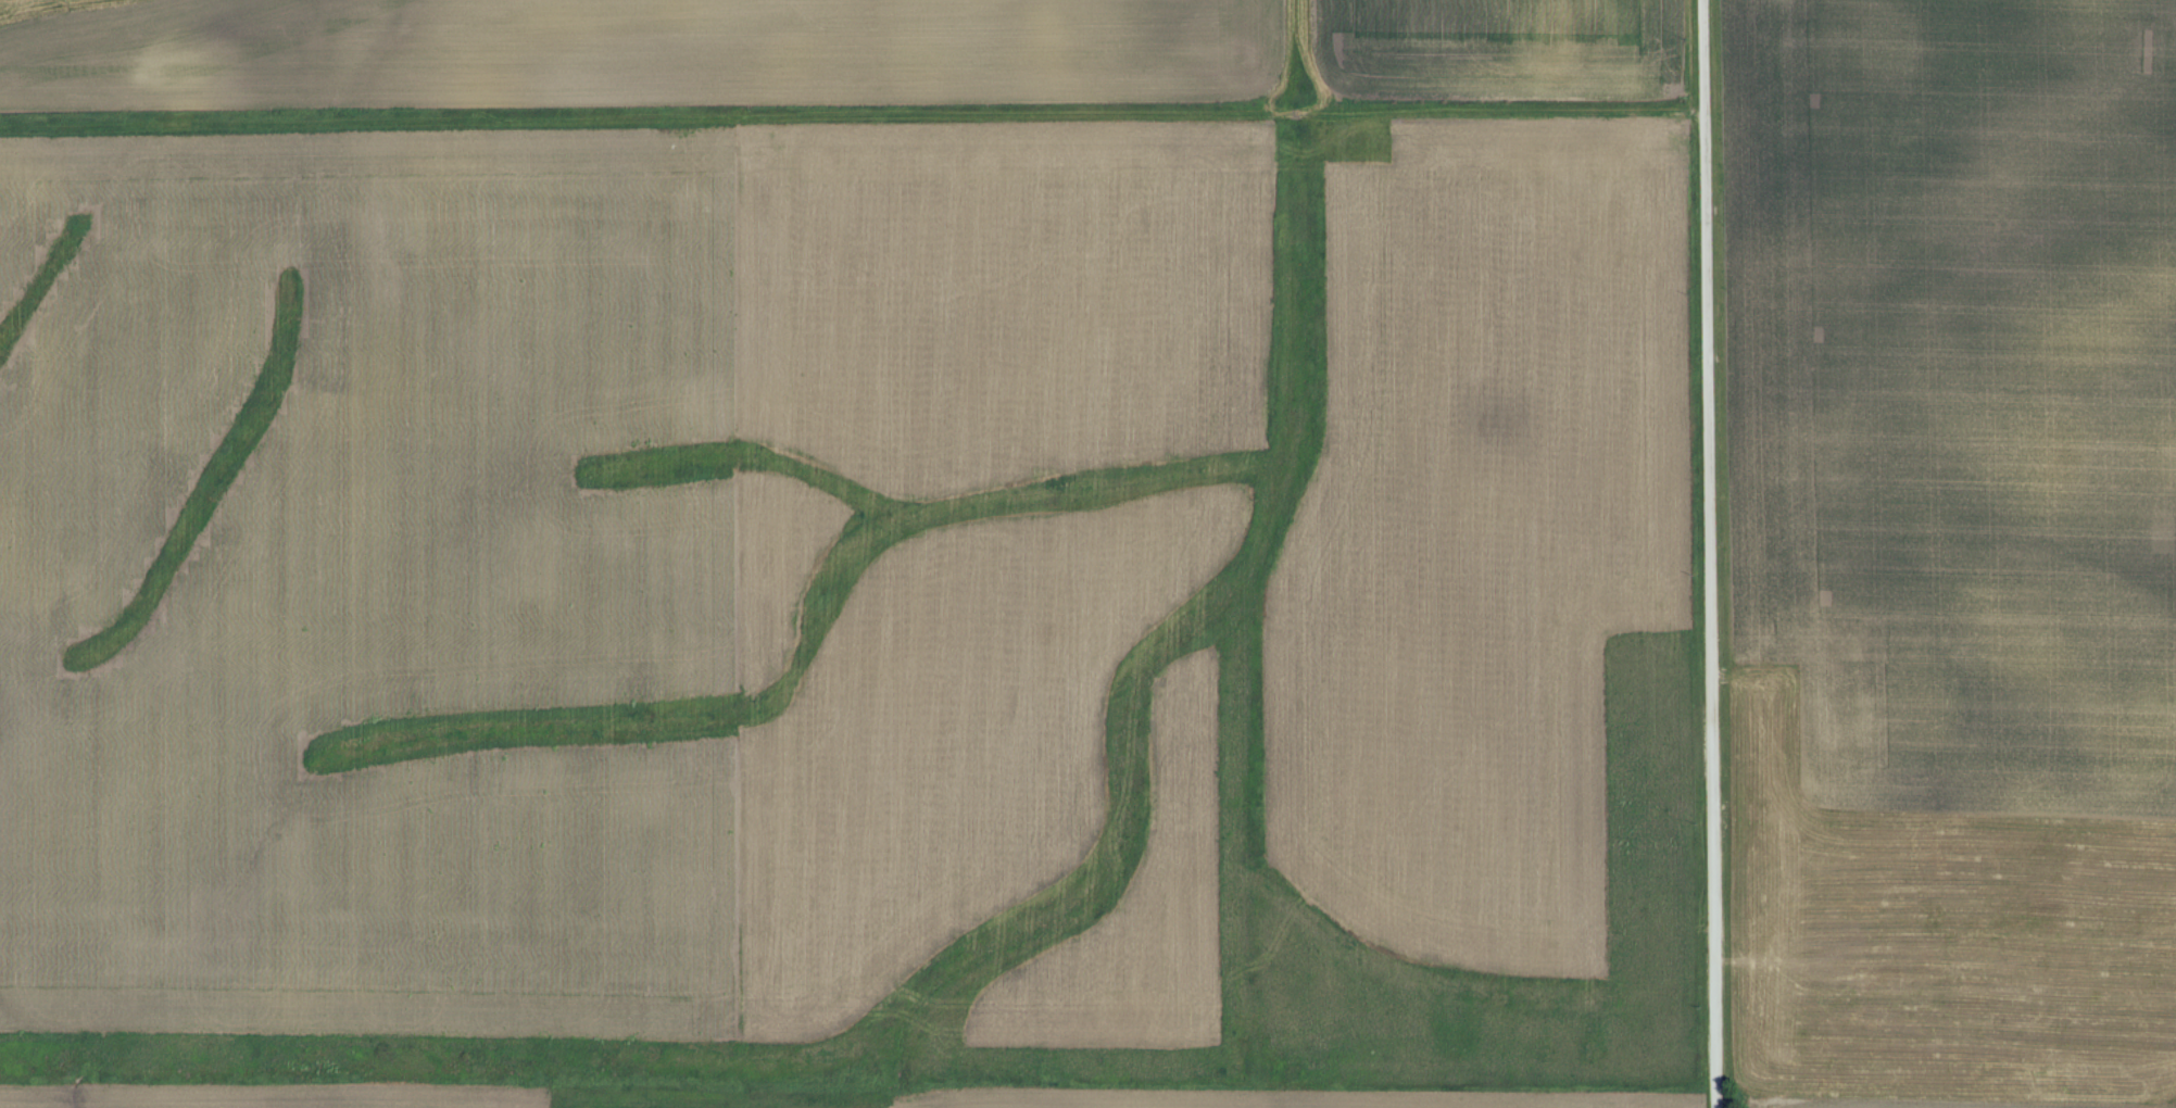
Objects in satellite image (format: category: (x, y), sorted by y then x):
road: (1707, 547)
road: (1714, 1101)

